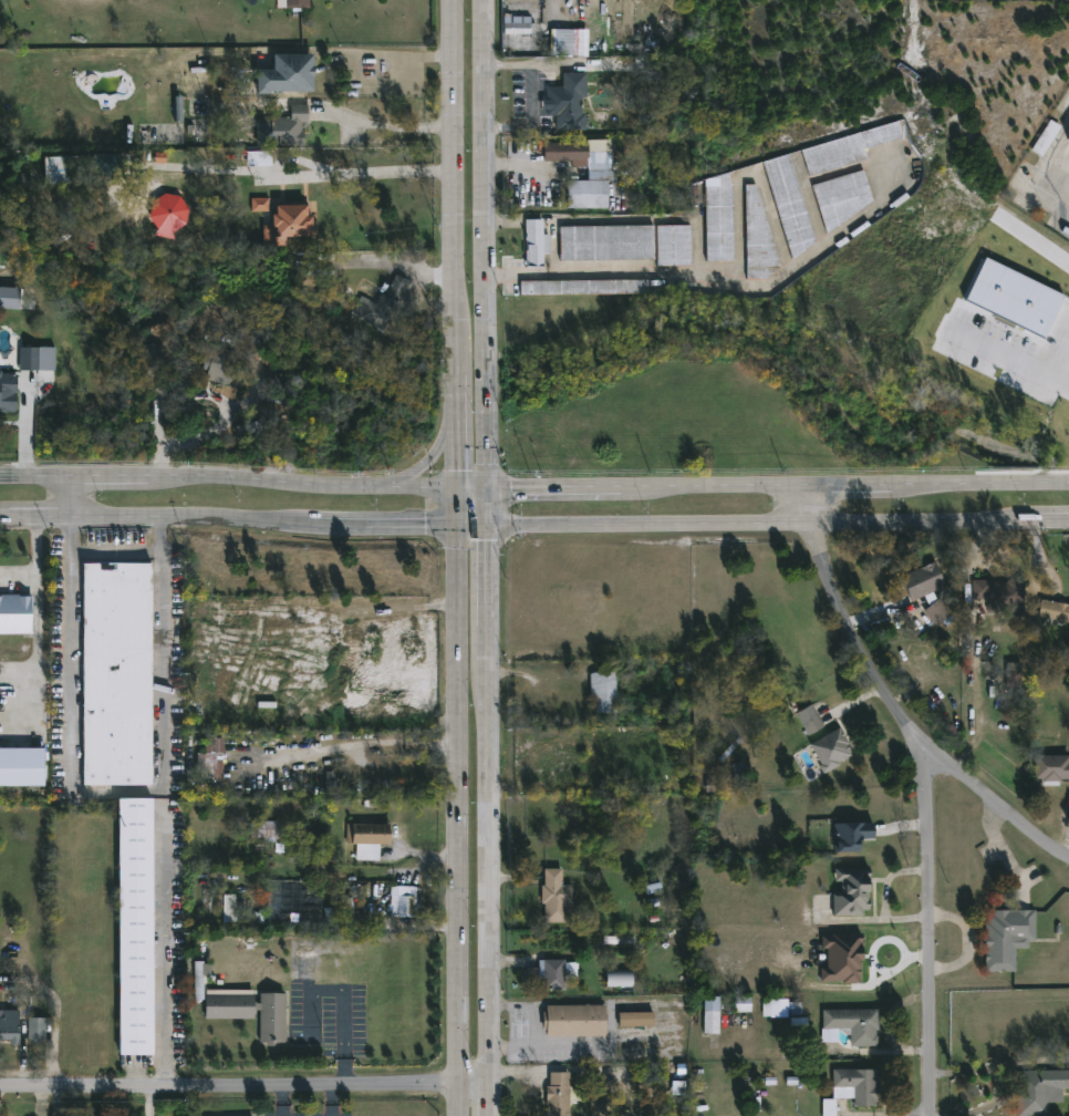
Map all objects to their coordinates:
building: (292, 3)
building: (516, 25)
road: (385, 55)
road: (580, 64)
road: (509, 65)
road: (547, 65)
building: (287, 75)
building: (639, 80)
building: (569, 103)
road: (331, 110)
road: (531, 115)
building: (283, 127)
building: (199, 132)
building: (1046, 138)
building: (847, 148)
building: (258, 158)
building: (105, 164)
road: (377, 167)
building: (62, 169)
building: (598, 170)
road: (1039, 170)
building: (751, 196)
building: (843, 197)
building: (260, 205)
building: (789, 205)
building: (167, 216)
road: (550, 217)
building: (718, 219)
building: (293, 220)
building: (536, 242)
building: (606, 244)
building: (674, 246)
road: (490, 247)
road: (457, 265)
road: (718, 272)
building: (583, 287)
building: (0, 294)
building: (1014, 298)
building: (383, 303)
building: (37, 359)
road: (1014, 360)
road: (1060, 360)
building: (225, 365)
building: (8, 402)
road: (440, 443)
road: (232, 477)
road: (980, 487)
road: (851, 492)
road: (716, 493)
road: (558, 494)
traffic signals: (465, 495)
road: (479, 495)
traffic signals: (495, 495)
road: (83, 496)
road: (495, 512)
road: (232, 518)
road: (1049, 523)
road: (762, 528)
traffic signals: (465, 529)
road: (480, 529)
traffic signals: (496, 529)
road: (18, 576)
road: (496, 579)
building: (926, 589)
building: (1003, 596)
building: (1054, 611)
building: (15, 614)
building: (225, 614)
road: (162, 652)
building: (113, 673)
building: (1013, 674)
road: (38, 680)
building: (604, 690)
road: (70, 699)
road: (985, 703)
road: (894, 706)
building: (810, 717)
building: (833, 750)
building: (208, 759)
building: (1052, 766)
building: (21, 767)
building: (332, 788)
road: (463, 823)
building: (369, 833)
building: (850, 835)
building: (281, 836)
road: (496, 859)
building: (849, 891)
building: (553, 896)
building: (405, 897)
road: (885, 898)
building: (229, 908)
building: (129, 927)
road: (928, 932)
building: (1009, 937)
building: (610, 940)
road: (968, 941)
road: (165, 945)
building: (841, 958)
building: (304, 964)
building: (549, 973)
building: (200, 979)
building: (619, 980)
building: (743, 1004)
building: (775, 1009)
building: (252, 1012)
building: (713, 1014)
building: (797, 1015)
building: (637, 1019)
building: (575, 1020)
road: (611, 1024)
road: (531, 1025)
building: (852, 1025)
building: (7, 1029)
building: (33, 1030)
road: (996, 1082)
building: (855, 1086)
road: (248, 1091)
building: (1038, 1091)
building: (559, 1094)
road: (495, 1102)
road: (281, 1104)
road: (334, 1104)
building: (828, 1107)

